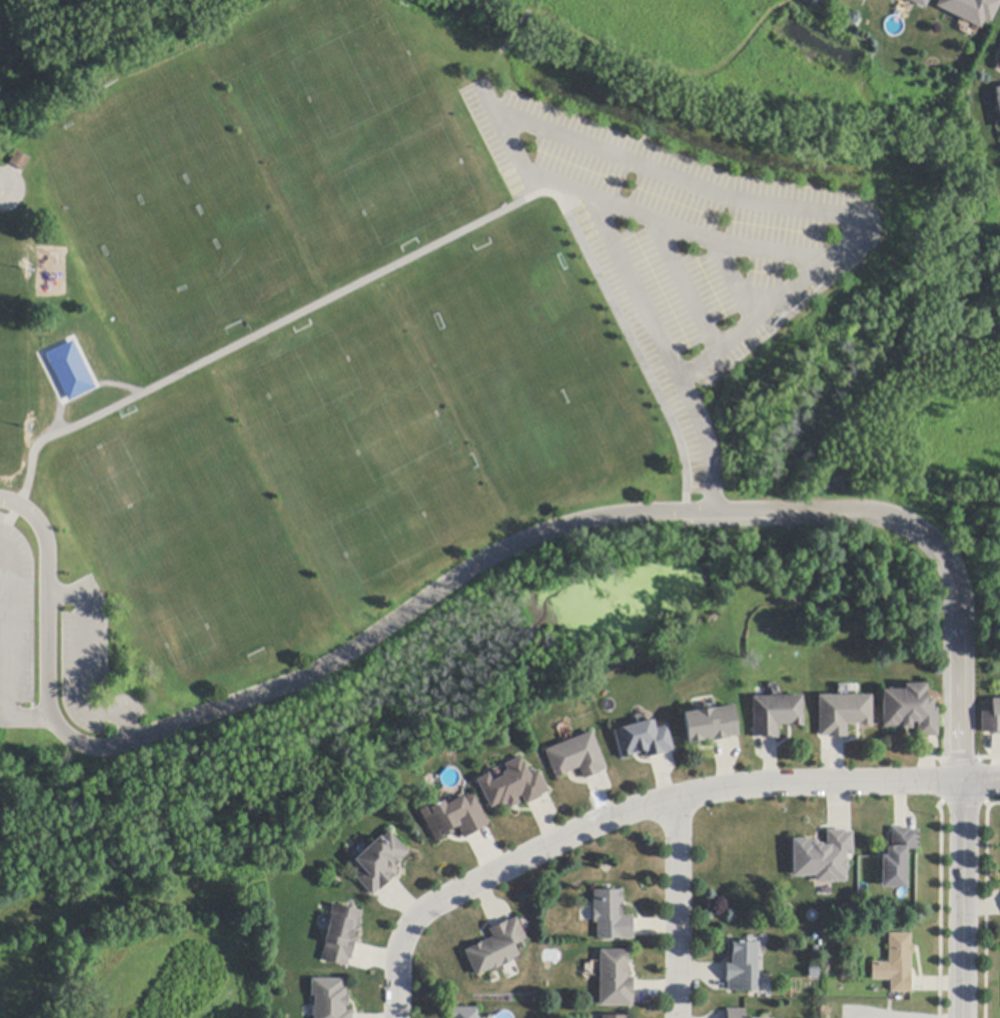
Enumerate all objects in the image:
building: (919, 3)
building: (970, 10)
park: (98, 19)
park: (752, 58)
building: (998, 100)
building: (20, 161)
road: (2, 188)
road: (788, 206)
parking lot: (681, 245)
road: (735, 246)
road: (408, 256)
road: (672, 258)
road: (629, 272)
road: (735, 280)
building: (70, 370)
park: (376, 431)
park: (913, 475)
road: (476, 565)
parking lot: (15, 616)
road: (8, 651)
parking lot: (89, 662)
road: (82, 664)
building: (910, 710)
building: (776, 714)
building: (843, 714)
road: (4, 717)
building: (991, 719)
building: (712, 725)
building: (644, 740)
building: (577, 757)
road: (981, 781)
building: (513, 786)
road: (626, 814)
building: (454, 818)
building: (823, 857)
building: (897, 858)
building: (379, 863)
road: (962, 900)
road: (677, 908)
building: (611, 916)
building: (341, 935)
building: (497, 948)
building: (895, 964)
building: (742, 967)
building: (615, 979)
building: (330, 999)
building: (464, 1013)
building: (736, 1013)
building: (613, 1017)

